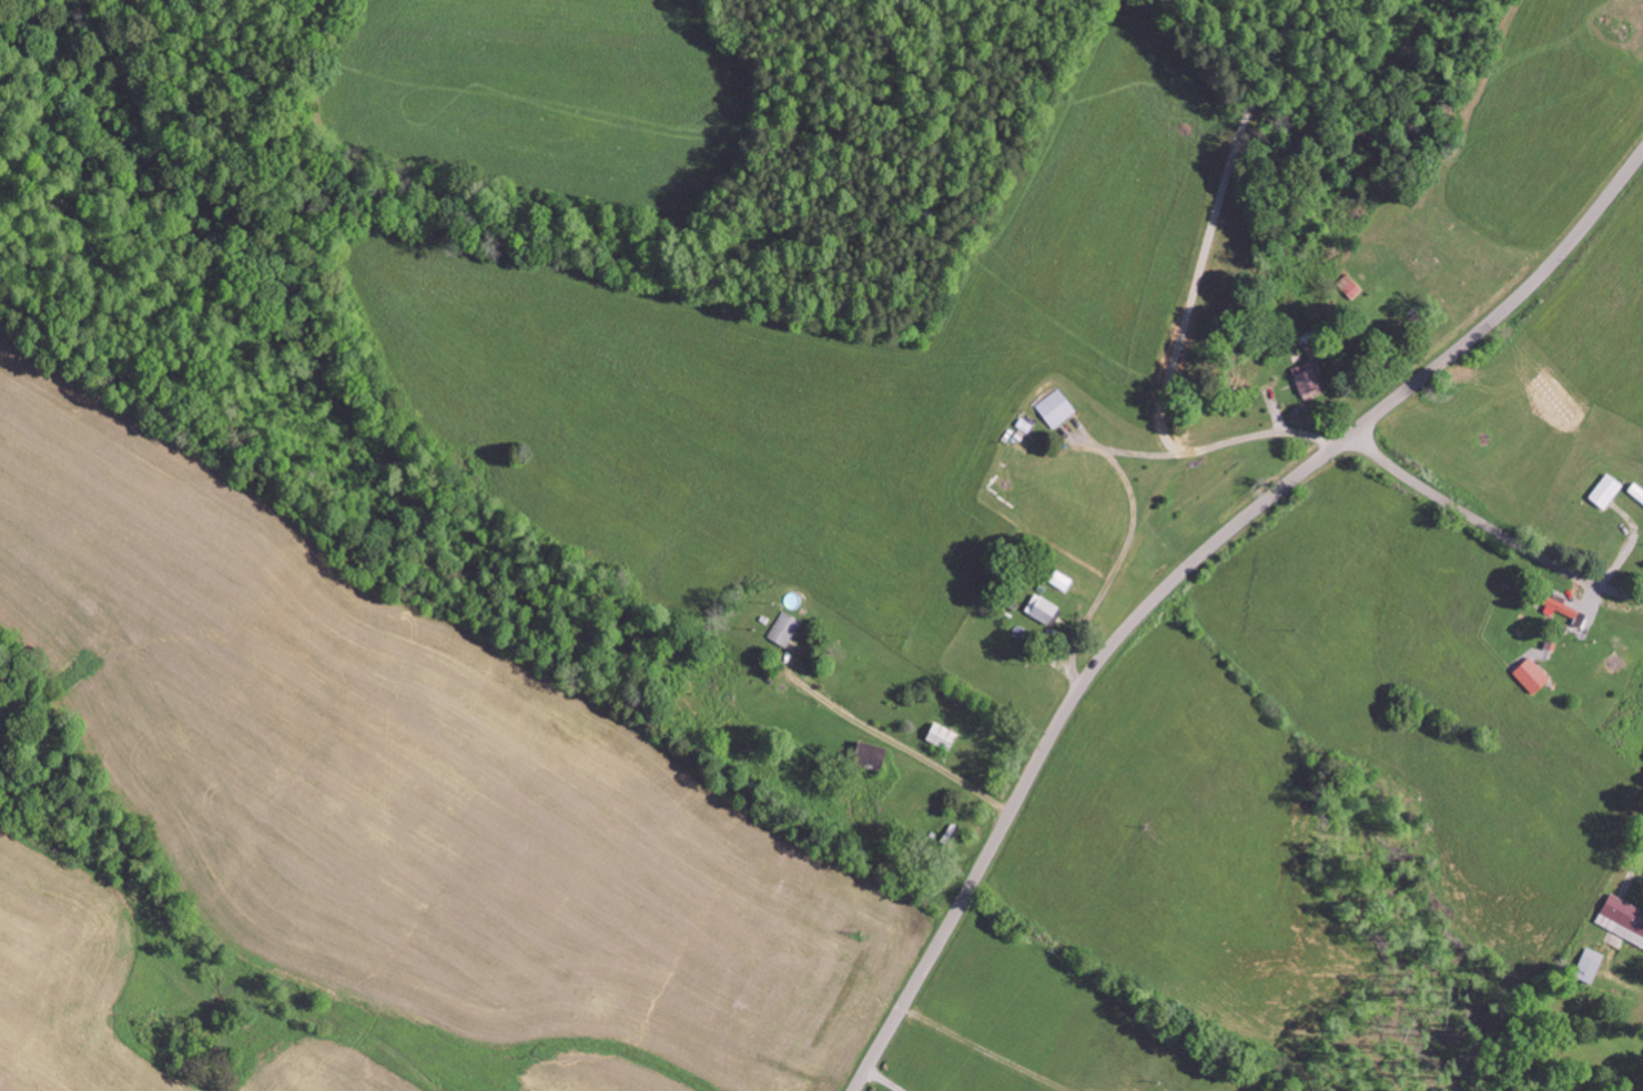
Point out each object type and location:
building: (1309, 377)
building: (1054, 406)
road: (966, 409)
building: (1607, 490)
building: (1637, 491)
road: (1491, 530)
road: (1186, 571)
building: (1063, 580)
building: (1043, 609)
building: (783, 628)
building: (1533, 675)
building: (943, 735)
building: (1593, 959)

